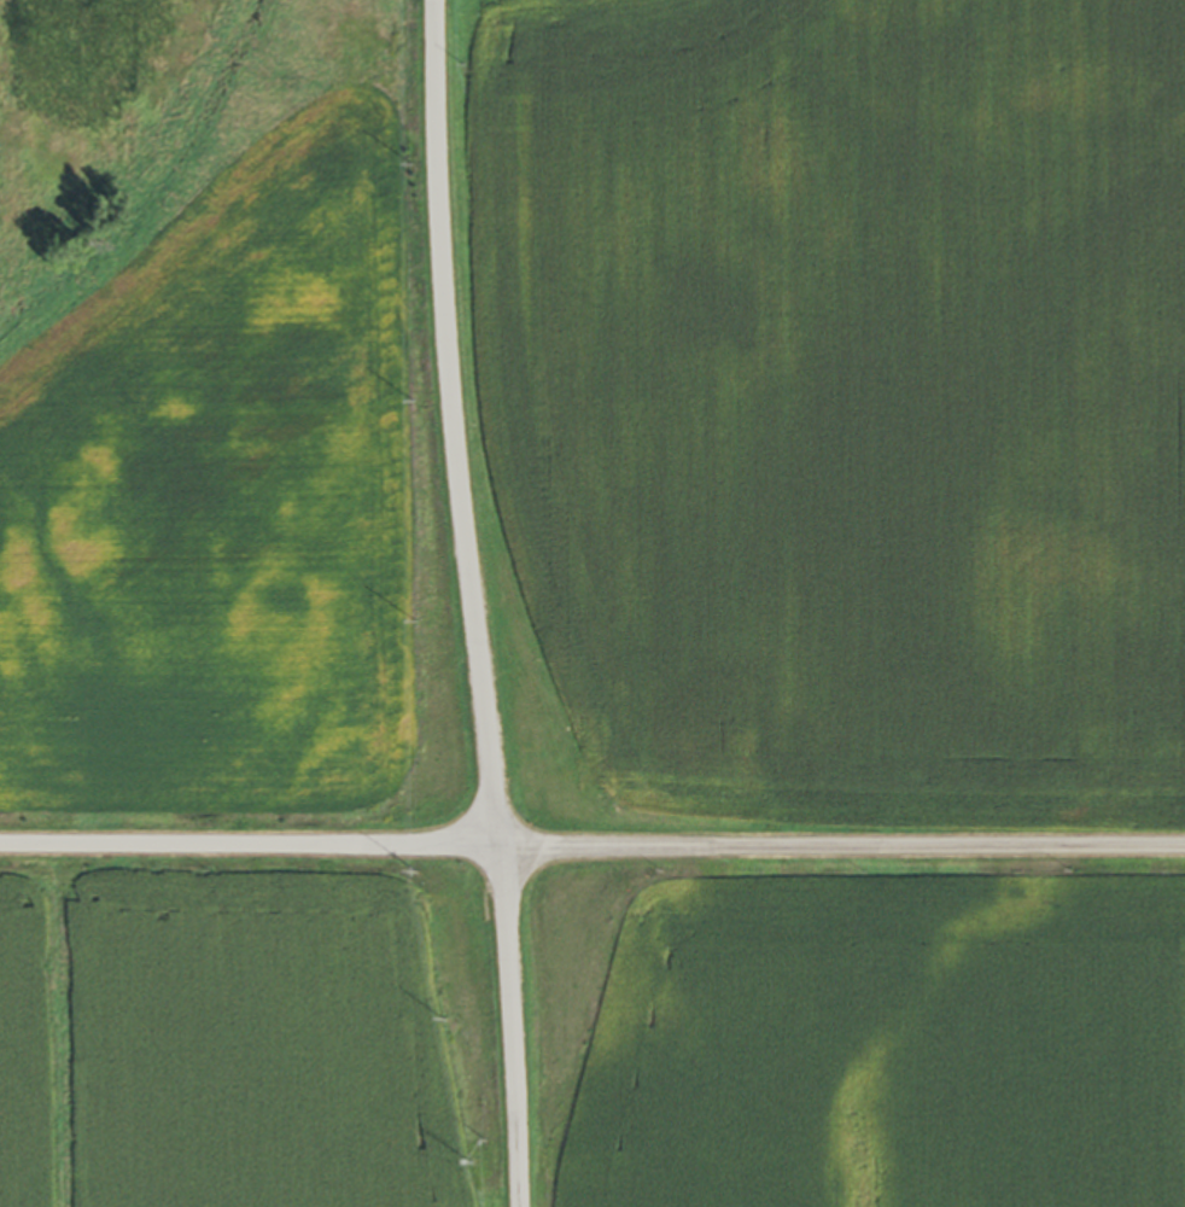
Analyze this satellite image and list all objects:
road: (456, 422)
road: (592, 845)
road: (514, 1026)

